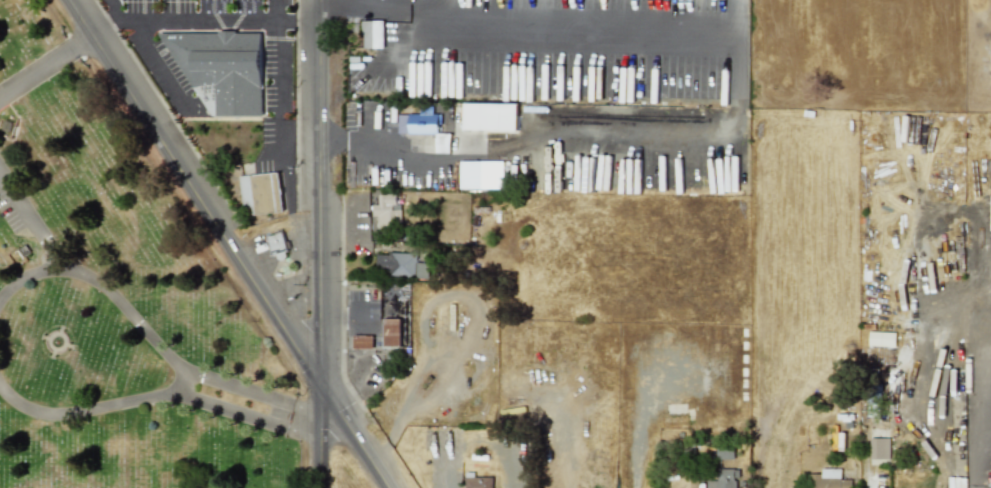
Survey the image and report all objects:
road: (382, 7)
road: (280, 12)
road: (444, 12)
road: (108, 16)
road: (128, 18)
road: (210, 24)
road: (601, 27)
building: (372, 34)
road: (47, 66)
road: (280, 66)
road: (165, 67)
building: (221, 69)
building: (490, 117)
building: (420, 122)
building: (442, 145)
road: (489, 159)
building: (261, 193)
building: (387, 208)
building: (277, 243)
road: (233, 244)
road: (318, 244)
building: (400, 264)
road: (31, 279)
park: (119, 299)
road: (139, 326)
building: (392, 333)
building: (881, 339)
building: (362, 341)
road: (88, 408)
road: (239, 417)
building: (879, 448)
building: (725, 452)
road: (975, 457)
building: (725, 478)
building: (828, 478)
building: (478, 480)

